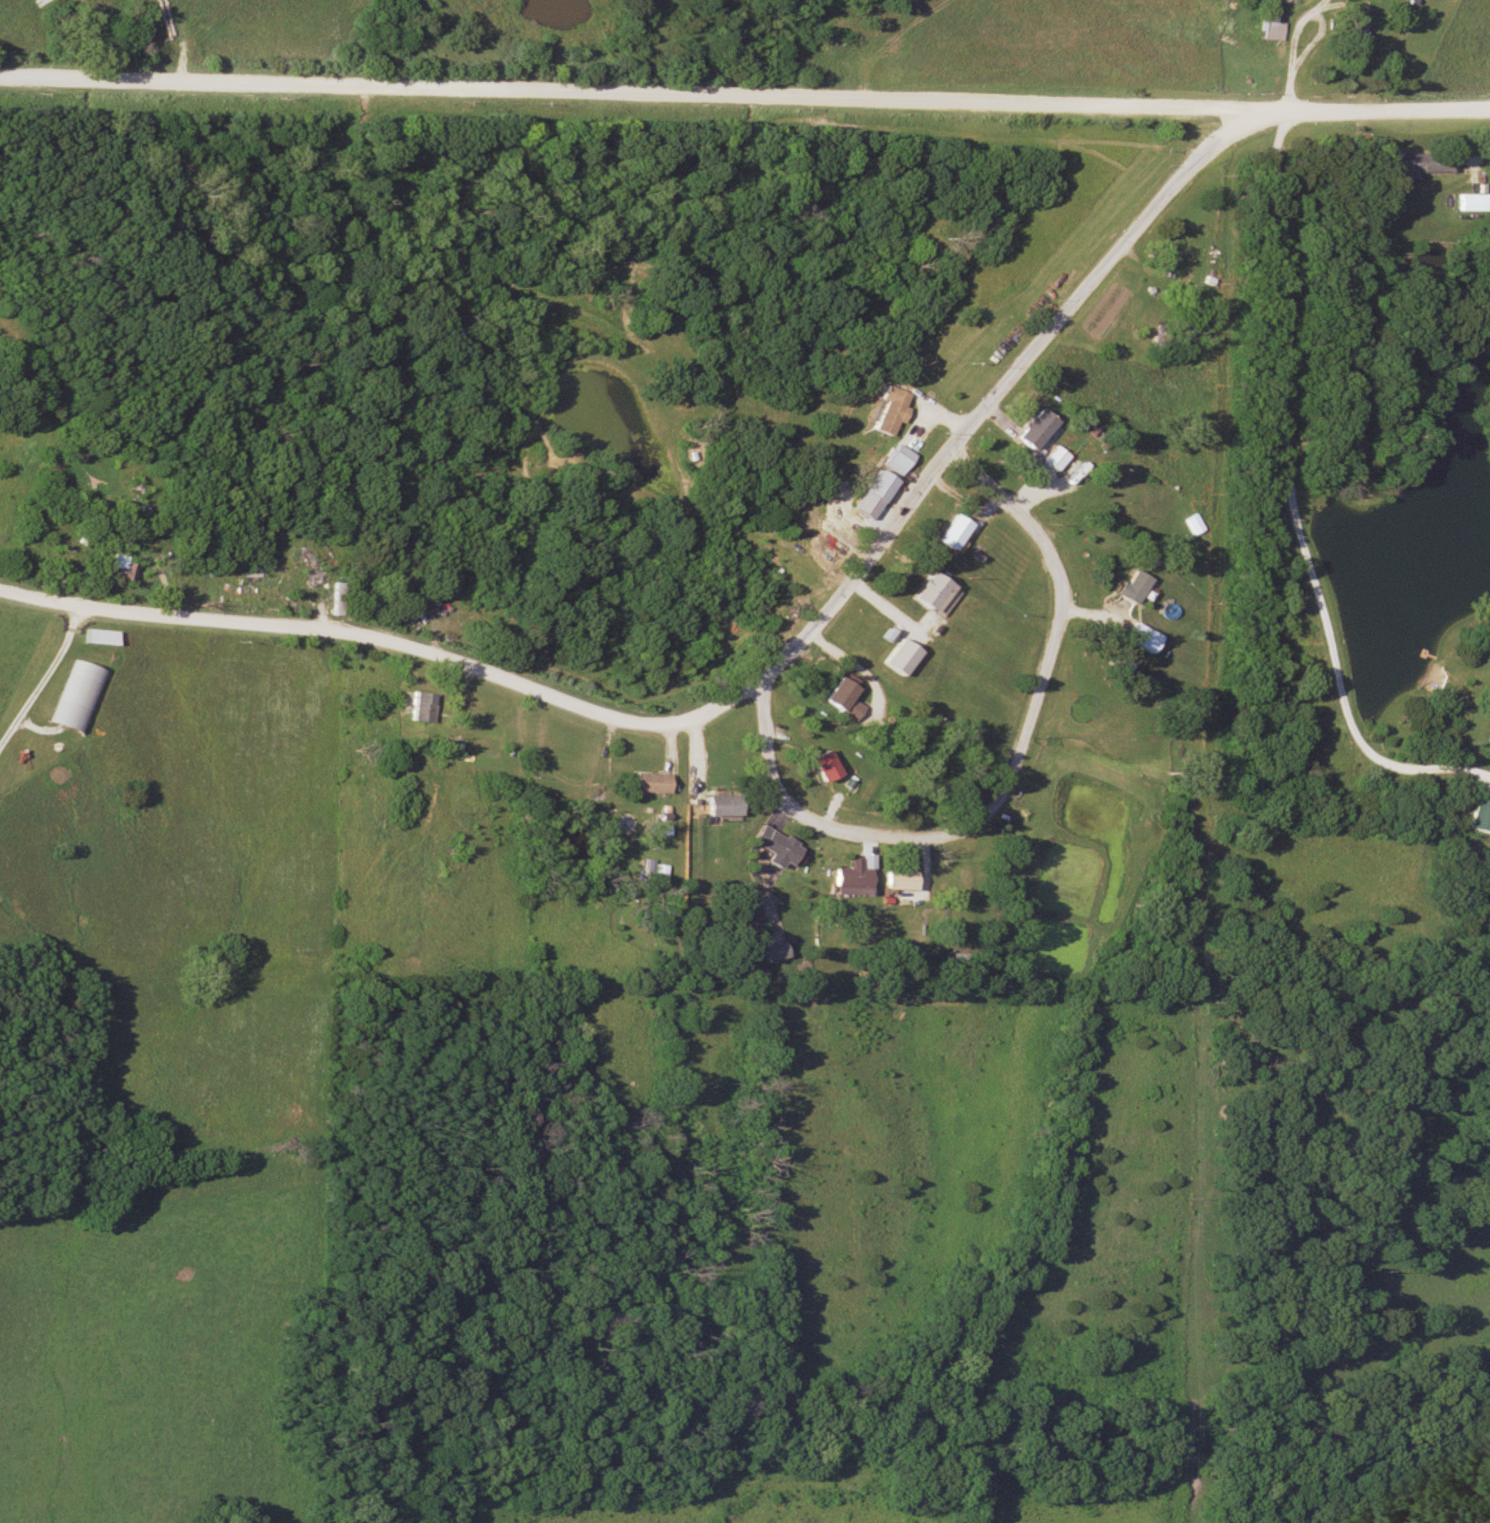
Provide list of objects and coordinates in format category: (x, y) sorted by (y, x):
building: (1271, 23)
building: (1350, 32)
road: (646, 91)
road: (1391, 109)
building: (1417, 163)
building: (1465, 202)
building: (1182, 249)
building: (887, 410)
building: (1030, 429)
building: (1051, 458)
building: (896, 459)
building: (877, 487)
road: (1289, 500)
building: (1194, 524)
building: (949, 532)
building: (304, 564)
building: (115, 567)
building: (1127, 587)
building: (929, 594)
building: (1136, 638)
road: (44, 673)
road: (761, 681)
road: (762, 697)
building: (76, 698)
building: (841, 698)
building: (420, 707)
building: (819, 764)
road: (1013, 764)
building: (648, 782)
building: (718, 804)
building: (1477, 817)
building: (771, 845)
building: (848, 878)
building: (894, 878)
building: (771, 951)

